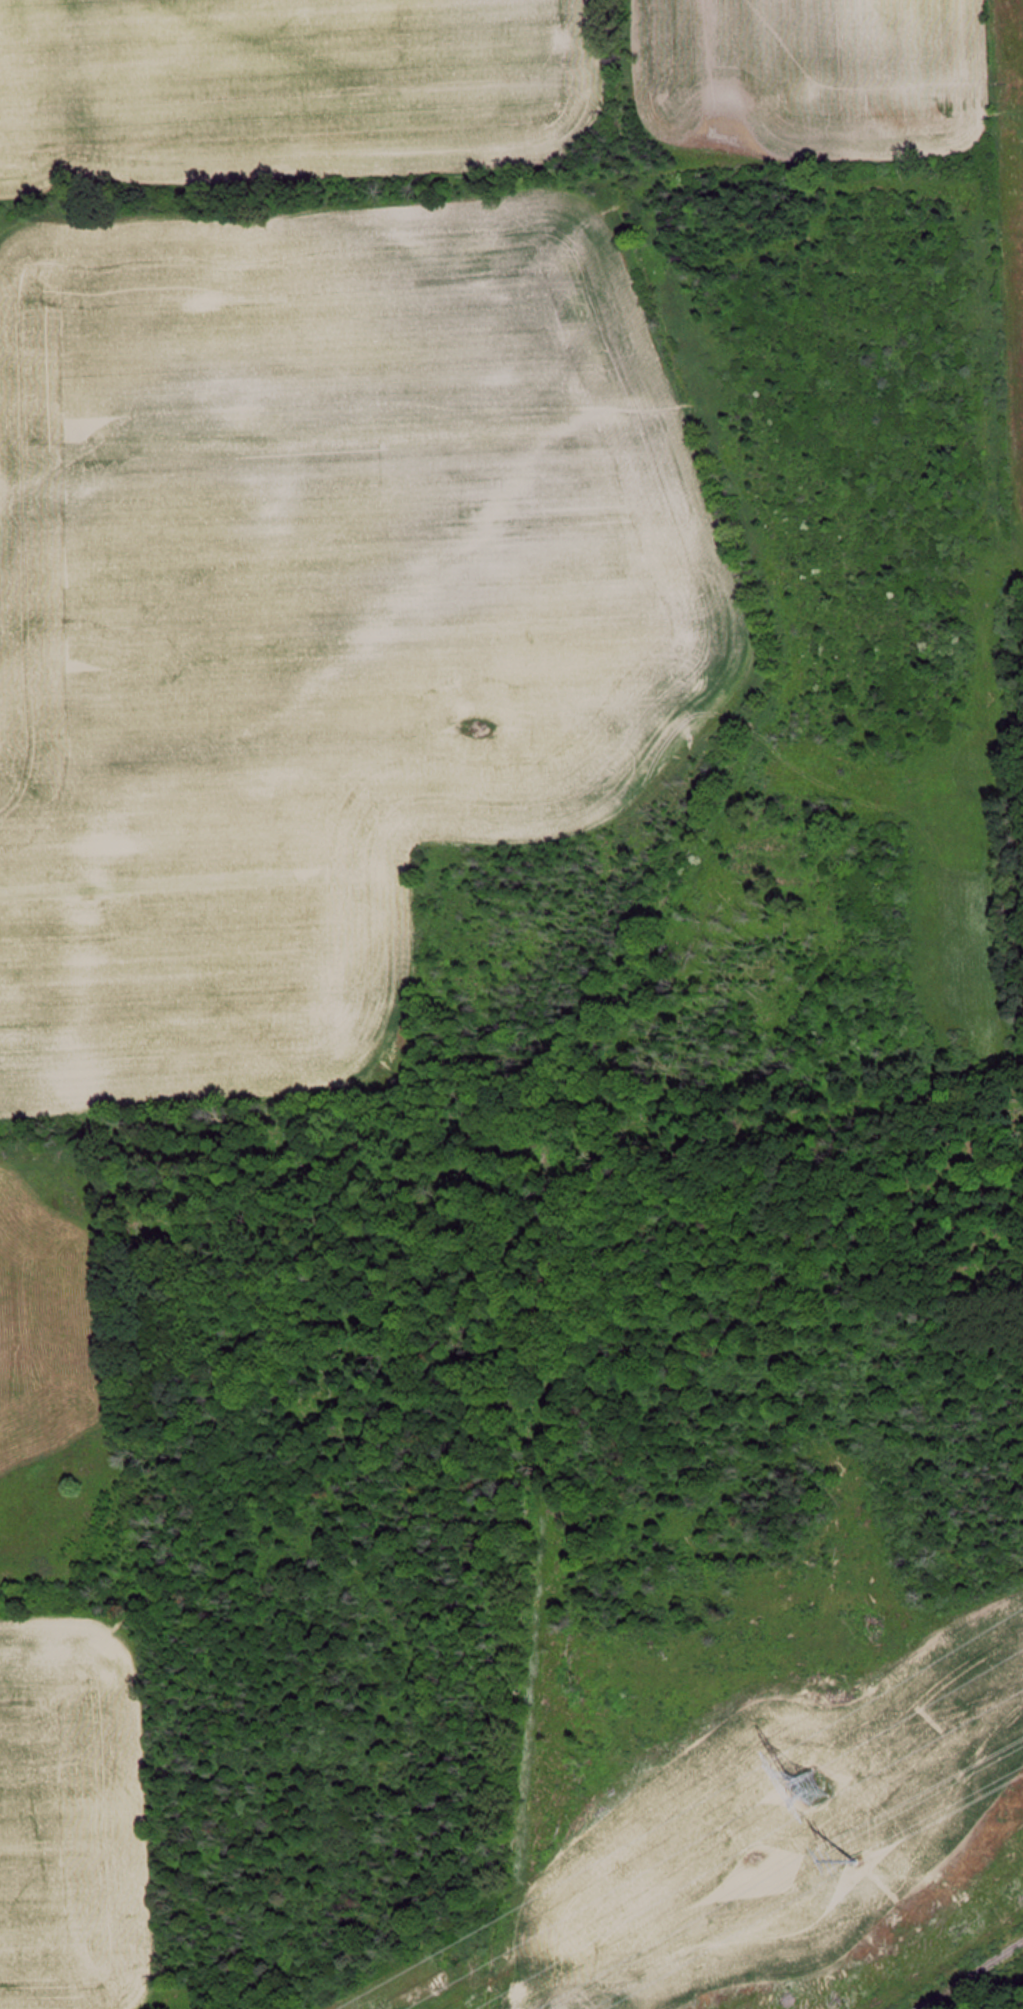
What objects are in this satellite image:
power tower: (807, 1786)
power tower: (856, 1863)
railway: (966, 1972)

